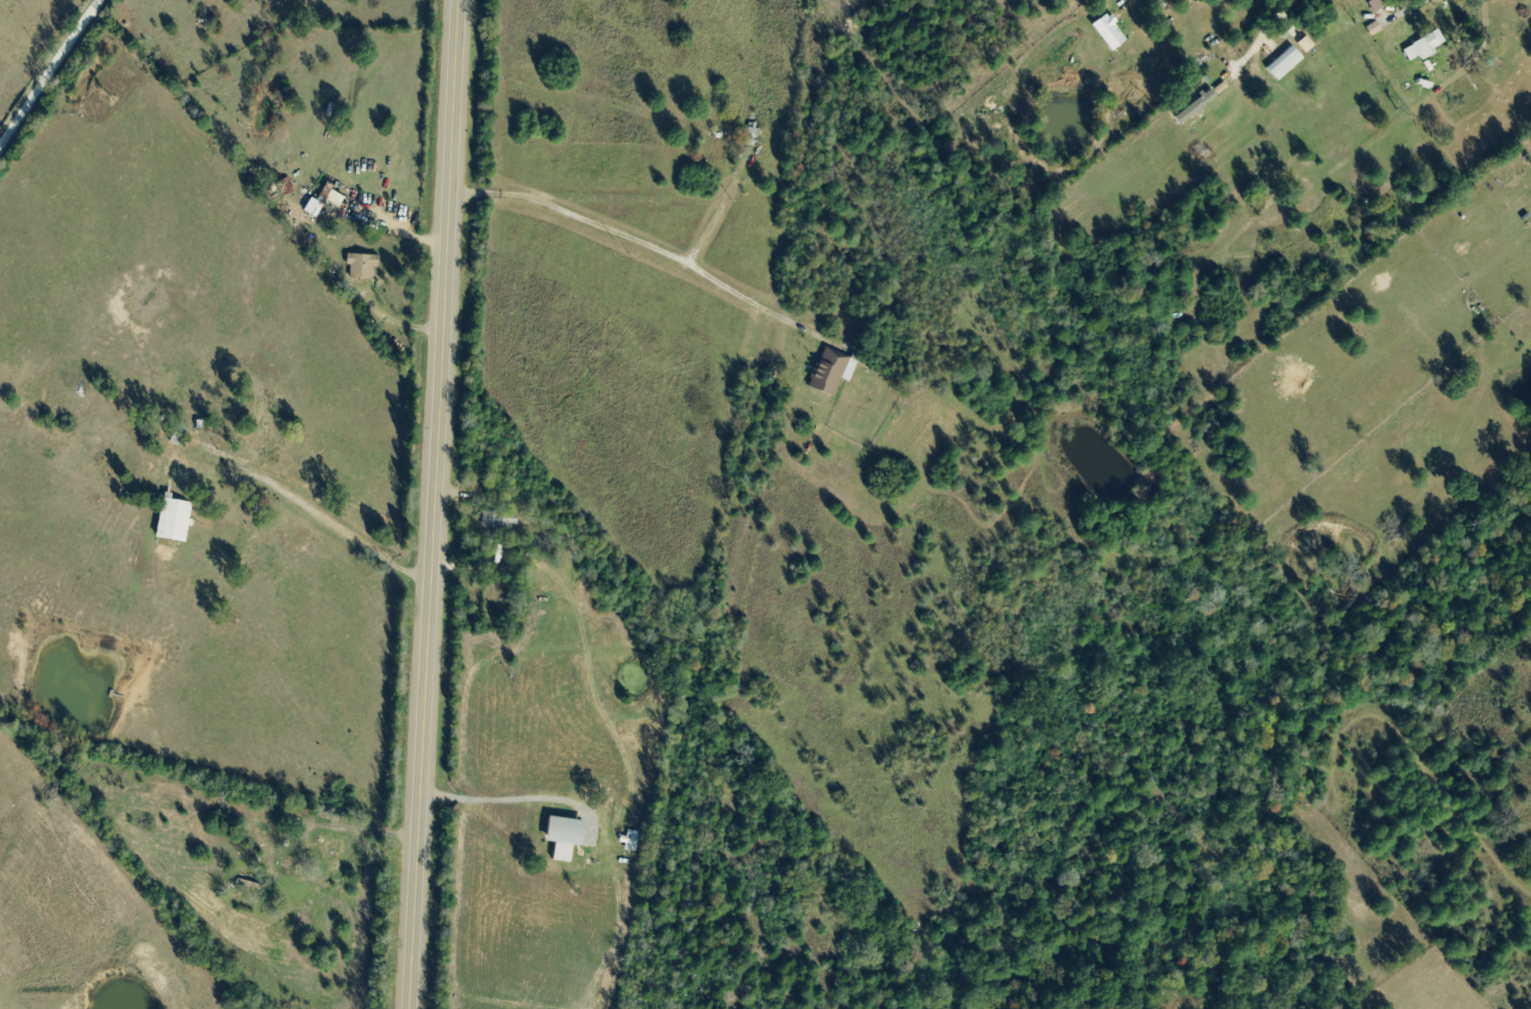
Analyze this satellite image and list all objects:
building: (1114, 34)
building: (1423, 46)
building: (1283, 63)
road: (48, 69)
building: (334, 197)
building: (1475, 254)
building: (365, 267)
building: (833, 373)
railway: (747, 503)
road: (436, 504)
building: (570, 839)
building: (337, 854)

